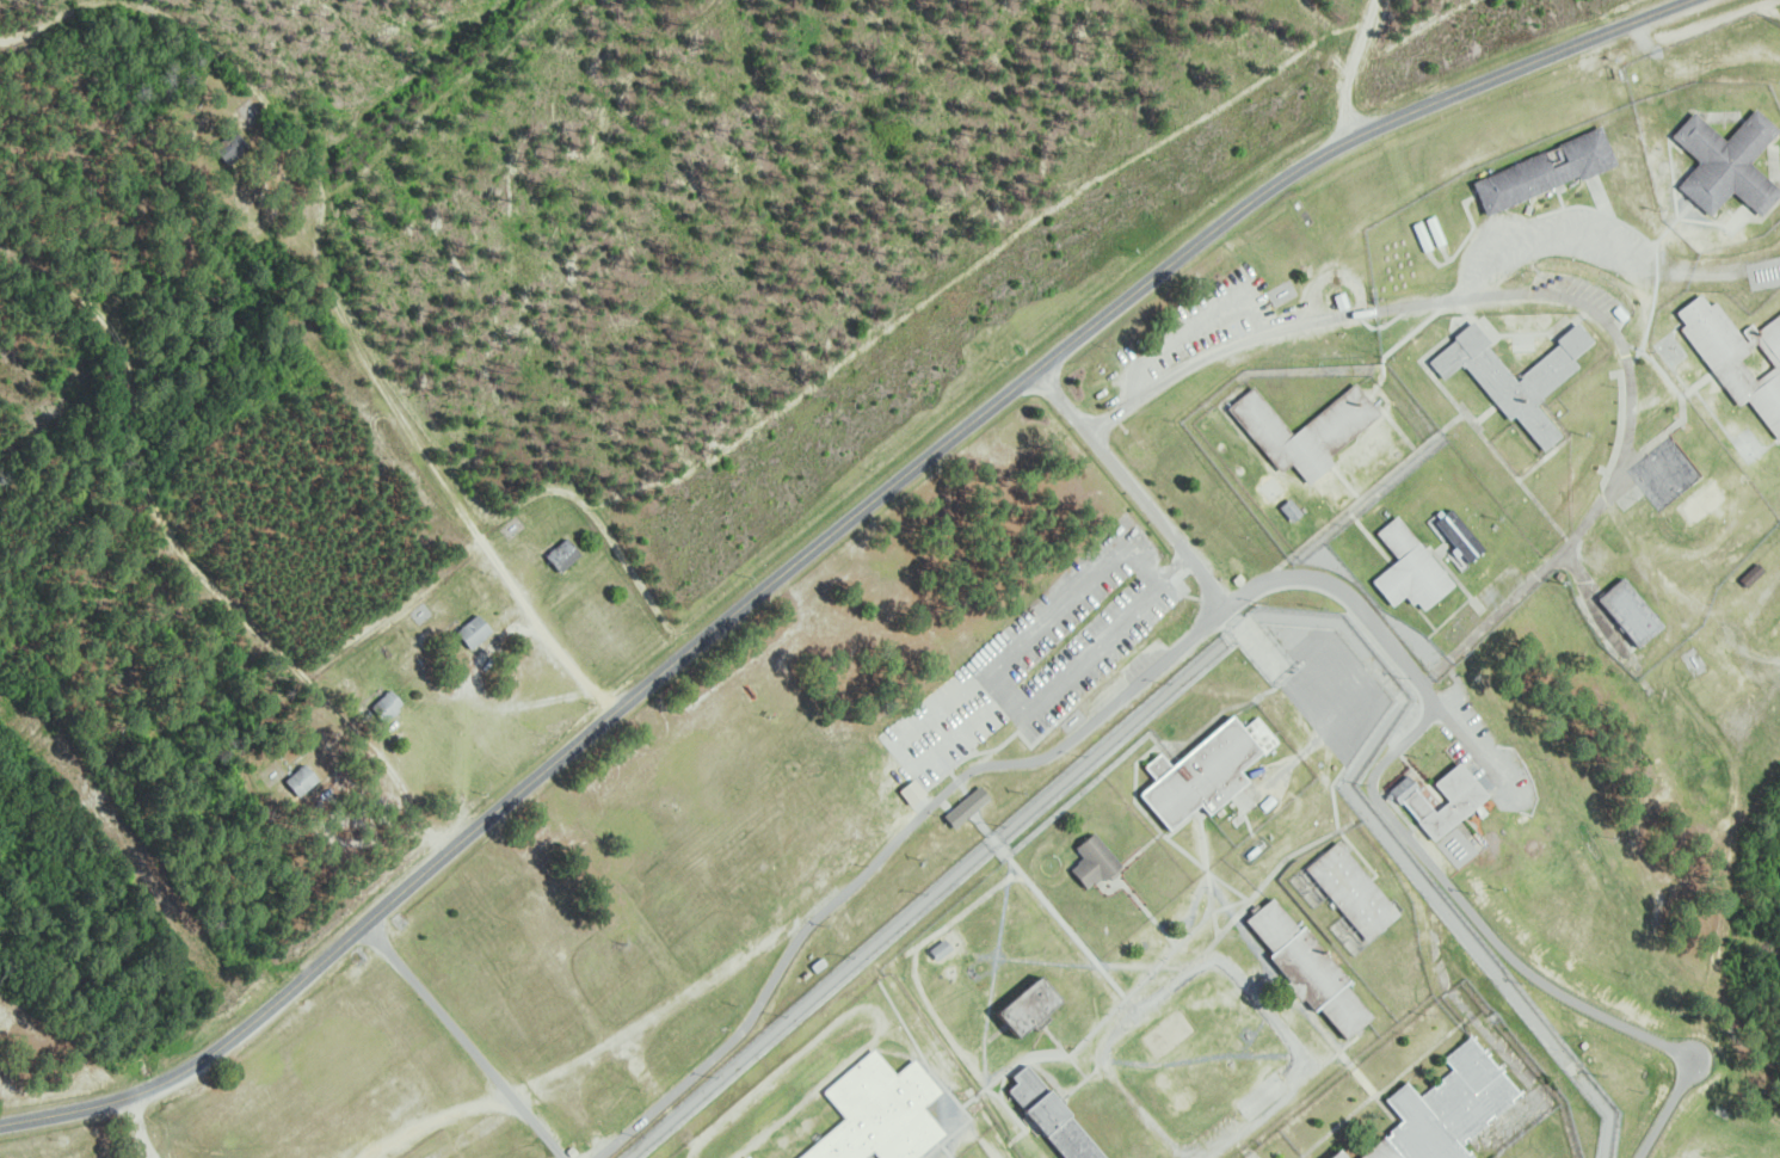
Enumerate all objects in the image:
road: (1347, 72)
building: (224, 144)
building: (1724, 162)
building: (1541, 173)
building: (1336, 300)
building: (1766, 333)
road: (1220, 347)
road: (361, 353)
building: (1727, 358)
building: (1774, 361)
building: (1517, 394)
road: (1630, 412)
building: (1301, 430)
road: (1133, 488)
park: (1274, 489)
building: (1289, 510)
road: (831, 540)
building: (561, 555)
road: (189, 561)
building: (1408, 568)
building: (1750, 574)
road: (1251, 589)
building: (1627, 612)
building: (473, 630)
road: (1227, 637)
road: (1257, 639)
road: (1428, 678)
building: (382, 708)
building: (1196, 776)
building: (301, 783)
building: (906, 790)
building: (1464, 800)
building: (962, 807)
road: (985, 827)
building: (1091, 863)
building: (1349, 891)
building: (940, 951)
building: (1305, 969)
building: (1023, 1010)
park: (1168, 1033)
road: (463, 1041)
park: (1261, 1095)
building: (1445, 1107)
building: (877, 1113)
building: (1048, 1117)
road: (137, 1127)
building: (1330, 1154)
building: (1341, 1154)
building: (743, 1157)
building: (745, 1157)

